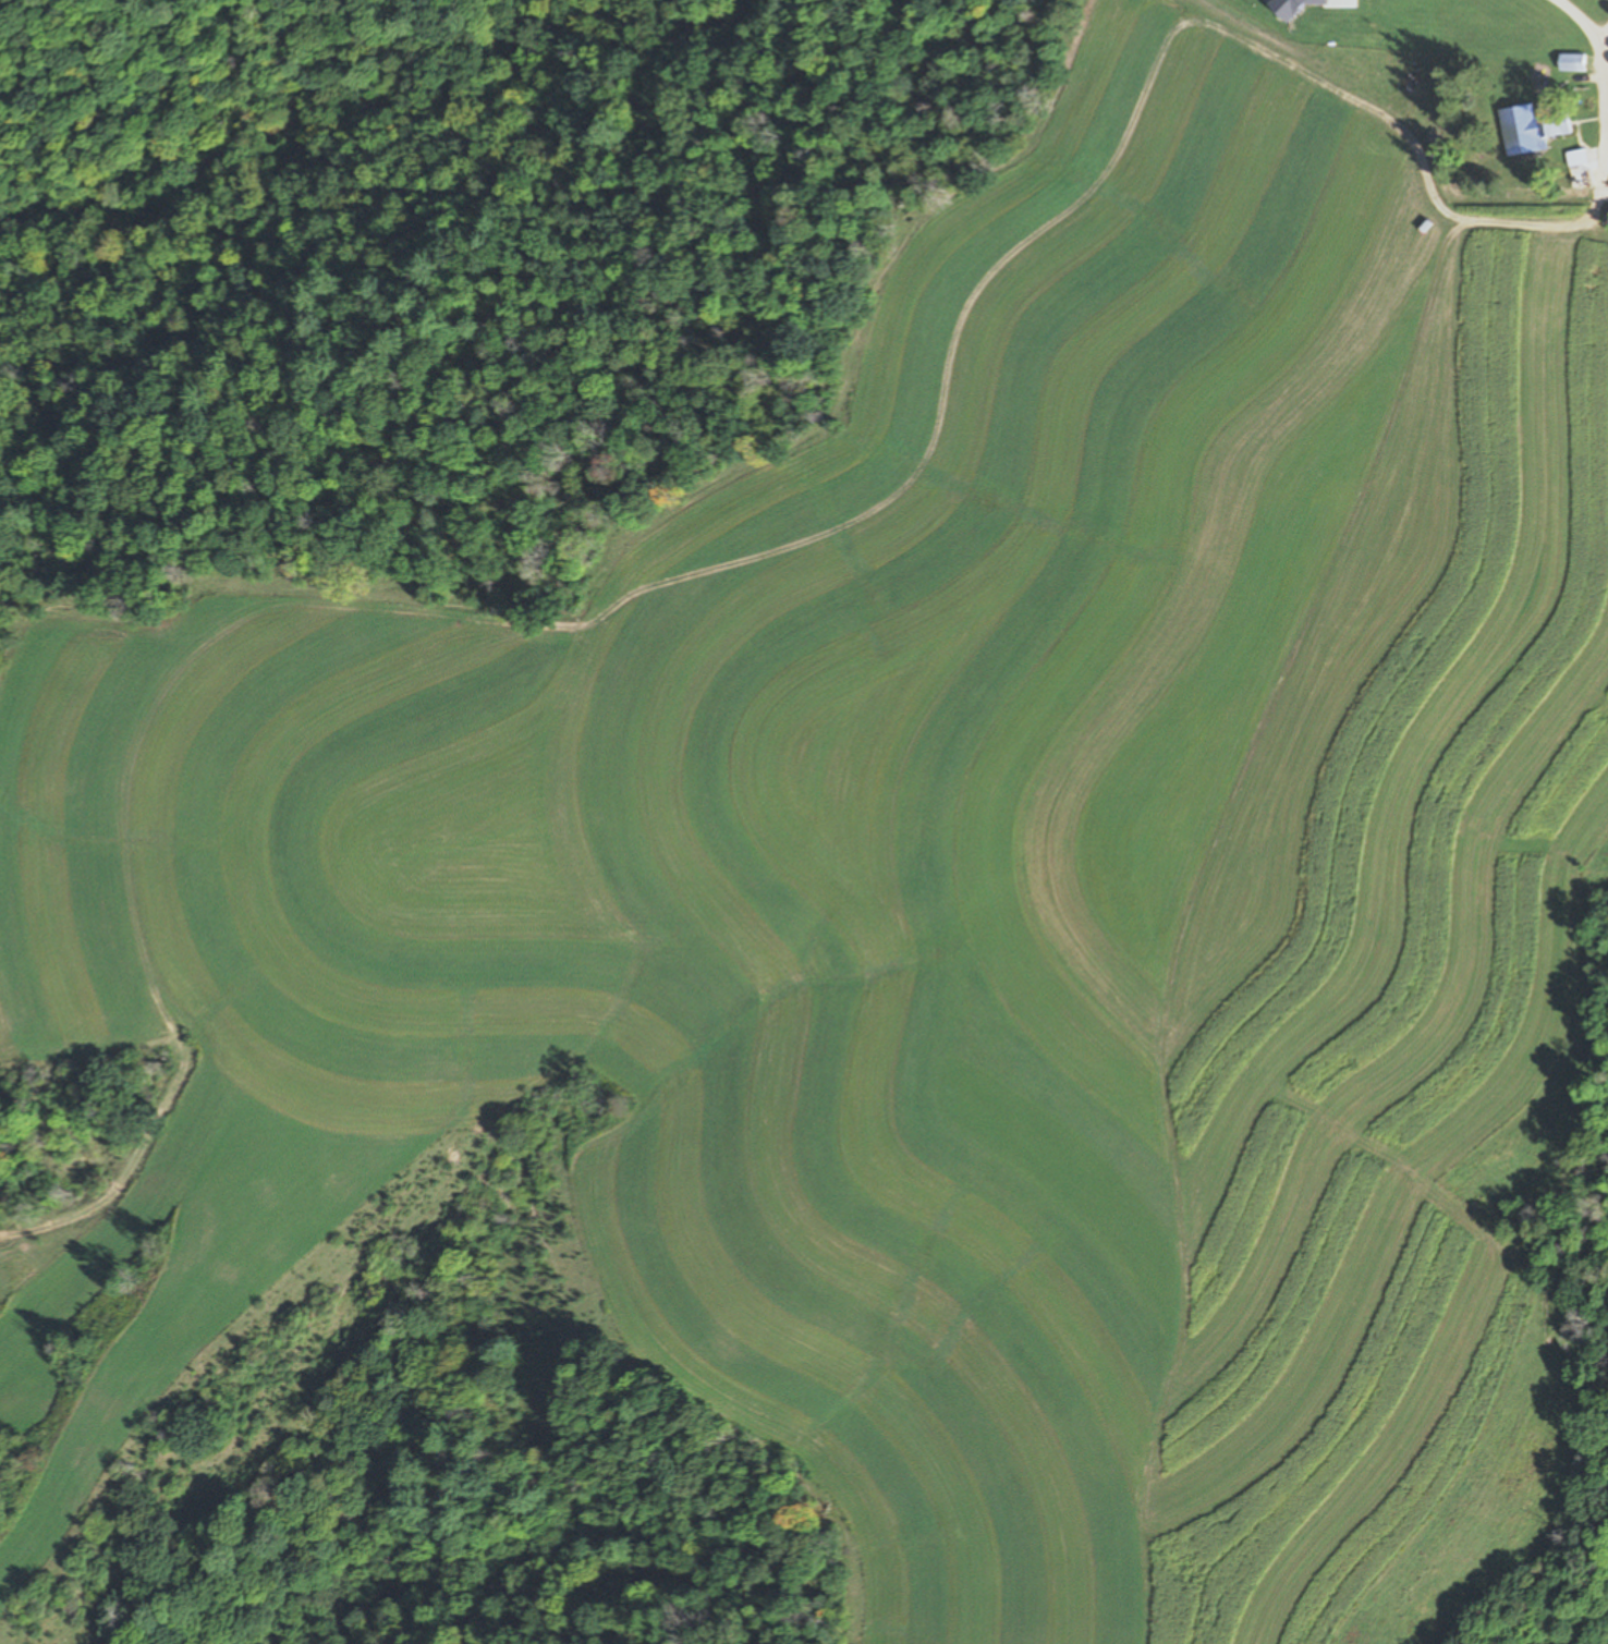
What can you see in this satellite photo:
building: (1601, 9)
building: (1571, 63)
road: (1603, 88)
building: (1531, 129)

